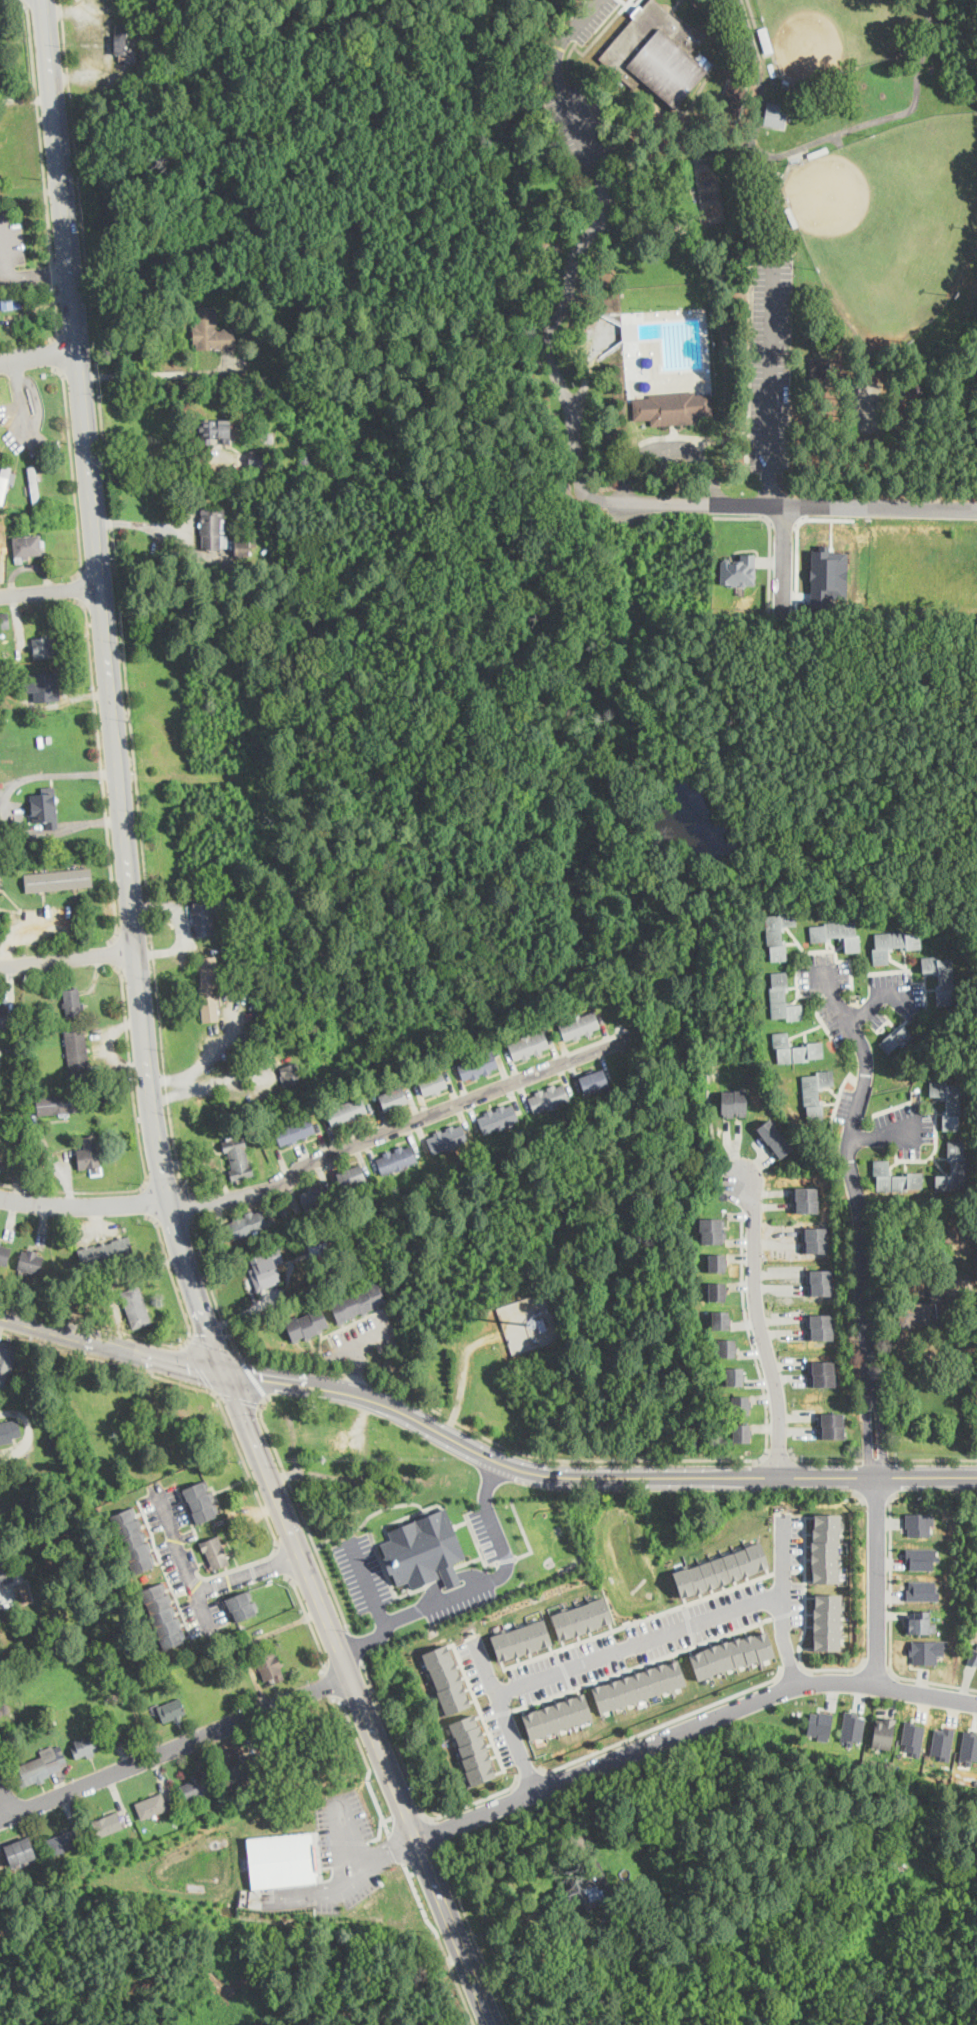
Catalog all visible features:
road: (24, 1)
park: (832, 33)
road: (753, 36)
building: (765, 38)
building: (125, 43)
building: (656, 54)
building: (831, 76)
building: (733, 99)
building: (775, 113)
road: (40, 130)
building: (817, 151)
building: (780, 173)
building: (710, 194)
building: (791, 216)
park: (891, 220)
road: (583, 243)
road: (3, 251)
park: (743, 261)
road: (53, 274)
road: (38, 276)
building: (20, 300)
building: (7, 301)
road: (58, 314)
building: (246, 317)
building: (253, 328)
building: (212, 332)
road: (38, 353)
road: (57, 354)
road: (770, 362)
building: (821, 373)
road: (153, 374)
road: (20, 400)
building: (672, 408)
building: (216, 431)
building: (244, 436)
road: (670, 444)
building: (305, 455)
building: (373, 455)
building: (332, 457)
road: (137, 458)
building: (261, 459)
road: (73, 472)
building: (3, 481)
building: (34, 486)
road: (767, 487)
road: (789, 503)
building: (4, 526)
road: (145, 526)
building: (238, 528)
building: (213, 529)
road: (770, 538)
building: (1, 544)
building: (27, 547)
building: (244, 547)
building: (295, 562)
road: (783, 563)
building: (737, 570)
building: (828, 575)
road: (80, 588)
road: (50, 591)
road: (118, 597)
building: (4, 621)
building: (43, 648)
building: (43, 685)
road: (111, 691)
road: (102, 771)
building: (306, 783)
road: (4, 808)
building: (46, 808)
building: (0, 874)
building: (0, 878)
building: (59, 881)
building: (204, 918)
building: (779, 933)
building: (838, 934)
building: (893, 944)
building: (245, 946)
road: (114, 954)
building: (318, 955)
road: (68, 959)
building: (382, 963)
building: (242, 964)
building: (942, 977)
building: (209, 987)
road: (832, 994)
road: (875, 996)
building: (782, 999)
building: (73, 1003)
building: (3, 1019)
building: (9, 1021)
building: (38, 1024)
building: (579, 1026)
building: (925, 1026)
building: (30, 1031)
building: (898, 1038)
building: (529, 1046)
building: (12, 1049)
building: (796, 1050)
building: (78, 1054)
road: (207, 1059)
building: (1, 1065)
building: (478, 1066)
building: (291, 1075)
building: (593, 1080)
building: (433, 1083)
building: (816, 1093)
road: (173, 1094)
building: (548, 1099)
building: (734, 1102)
building: (949, 1102)
building: (58, 1103)
building: (390, 1103)
building: (347, 1112)
building: (498, 1119)
building: (295, 1131)
road: (884, 1135)
building: (448, 1139)
building: (774, 1139)
road: (140, 1145)
building: (90, 1156)
building: (239, 1158)
road: (314, 1159)
building: (397, 1160)
road: (59, 1167)
building: (954, 1169)
building: (351, 1177)
building: (895, 1179)
building: (314, 1198)
road: (146, 1199)
building: (805, 1200)
road: (188, 1202)
building: (284, 1210)
building: (247, 1225)
building: (712, 1230)
building: (949, 1239)
building: (815, 1240)
building: (0, 1242)
road: (861, 1243)
building: (319, 1247)
building: (106, 1253)
building: (4, 1254)
building: (30, 1261)
building: (717, 1262)
road: (171, 1272)
building: (265, 1272)
building: (820, 1283)
road: (210, 1288)
building: (308, 1288)
building: (717, 1291)
building: (357, 1302)
building: (926, 1307)
building: (136, 1308)
building: (720, 1319)
road: (95, 1322)
building: (541, 1323)
building: (305, 1324)
road: (761, 1327)
building: (819, 1327)
road: (748, 1331)
parking lot: (360, 1338)
road: (211, 1343)
road: (114, 1344)
road: (352, 1346)
building: (726, 1348)
building: (7, 1357)
road: (108, 1360)
road: (197, 1365)
road: (462, 1372)
traffic signals: (229, 1373)
building: (821, 1374)
road: (251, 1375)
building: (734, 1376)
road: (291, 1382)
road: (238, 1398)
building: (740, 1405)
road: (4, 1411)
road: (376, 1416)
building: (830, 1426)
building: (9, 1432)
building: (741, 1433)
road: (495, 1440)
road: (778, 1452)
road: (822, 1458)
road: (874, 1458)
road: (932, 1458)
road: (538, 1472)
road: (489, 1474)
road: (859, 1476)
road: (487, 1482)
road: (227, 1485)
road: (935, 1490)
road: (686, 1492)
road: (878, 1493)
building: (200, 1501)
road: (218, 1502)
road: (264, 1510)
road: (300, 1510)
road: (138, 1513)
road: (367, 1516)
road: (460, 1523)
building: (919, 1523)
road: (145, 1524)
road: (524, 1532)
building: (133, 1540)
road: (225, 1542)
road: (477, 1545)
road: (155, 1546)
road: (230, 1547)
building: (827, 1547)
building: (424, 1549)
building: (216, 1553)
road: (180, 1557)
building: (922, 1557)
road: (507, 1558)
road: (283, 1560)
road: (157, 1561)
road: (468, 1561)
road: (250, 1563)
building: (722, 1568)
road: (782, 1570)
road: (798, 1570)
road: (253, 1571)
road: (198, 1574)
road: (247, 1574)
parking lot: (363, 1574)
road: (213, 1575)
road: (388, 1577)
road: (450, 1578)
building: (4, 1579)
parking lot: (786, 1580)
road: (877, 1580)
building: (52, 1582)
road: (192, 1582)
road: (215, 1584)
road: (169, 1588)
building: (922, 1590)
building: (24, 1594)
road: (780, 1599)
road: (435, 1603)
building: (241, 1605)
road: (224, 1606)
road: (180, 1609)
building: (163, 1615)
building: (582, 1617)
road: (638, 1619)
building: (828, 1621)
building: (920, 1622)
road: (310, 1624)
road: (805, 1624)
road: (890, 1625)
road: (364, 1639)
building: (521, 1639)
road: (639, 1644)
road: (354, 1645)
building: (976, 1645)
building: (927, 1650)
building: (731, 1654)
building: (973, 1656)
parking lot: (600, 1657)
building: (271, 1666)
road: (875, 1666)
road: (790, 1667)
road: (564, 1668)
building: (447, 1678)
road: (596, 1680)
road: (328, 1684)
building: (639, 1685)
building: (132, 1692)
road: (359, 1698)
building: (117, 1700)
road: (477, 1707)
building: (171, 1711)
road: (496, 1712)
road: (505, 1715)
building: (558, 1716)
building: (52, 1719)
road: (664, 1723)
building: (819, 1724)
building: (852, 1726)
road: (691, 1727)
building: (84, 1729)
building: (883, 1731)
building: (913, 1737)
road: (394, 1740)
building: (943, 1742)
building: (968, 1746)
building: (86, 1747)
road: (175, 1747)
building: (473, 1747)
building: (300, 1749)
road: (367, 1762)
building: (39, 1768)
building: (241, 1770)
road: (528, 1775)
building: (200, 1784)
building: (301, 1787)
road: (6, 1799)
road: (478, 1799)
building: (152, 1806)
building: (222, 1806)
road: (410, 1815)
road: (389, 1817)
building: (107, 1824)
road: (436, 1830)
road: (379, 1832)
road: (346, 1833)
building: (68, 1841)
road: (396, 1848)
building: (20, 1852)
parking lot: (337, 1858)
building: (282, 1859)
building: (74, 1865)
road: (429, 1865)
building: (653, 1865)
road: (412, 1872)
road: (350, 1877)
building: (587, 1891)
road: (473, 1934)
road: (440, 1943)
road: (566, 1974)

